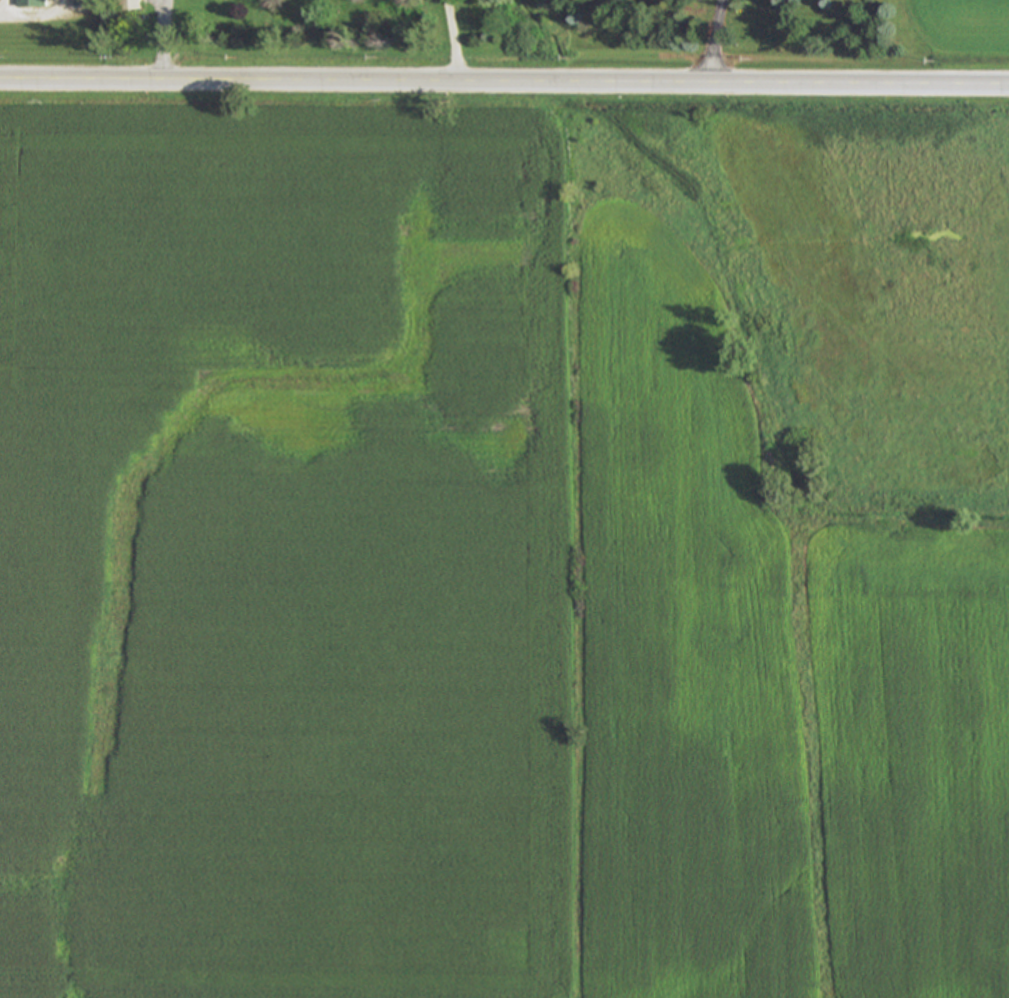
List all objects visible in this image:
building: (30, 4)
building: (81, 4)
building: (129, 6)
road: (36, 18)
road: (163, 40)
road: (454, 40)
road: (715, 41)
road: (504, 82)

